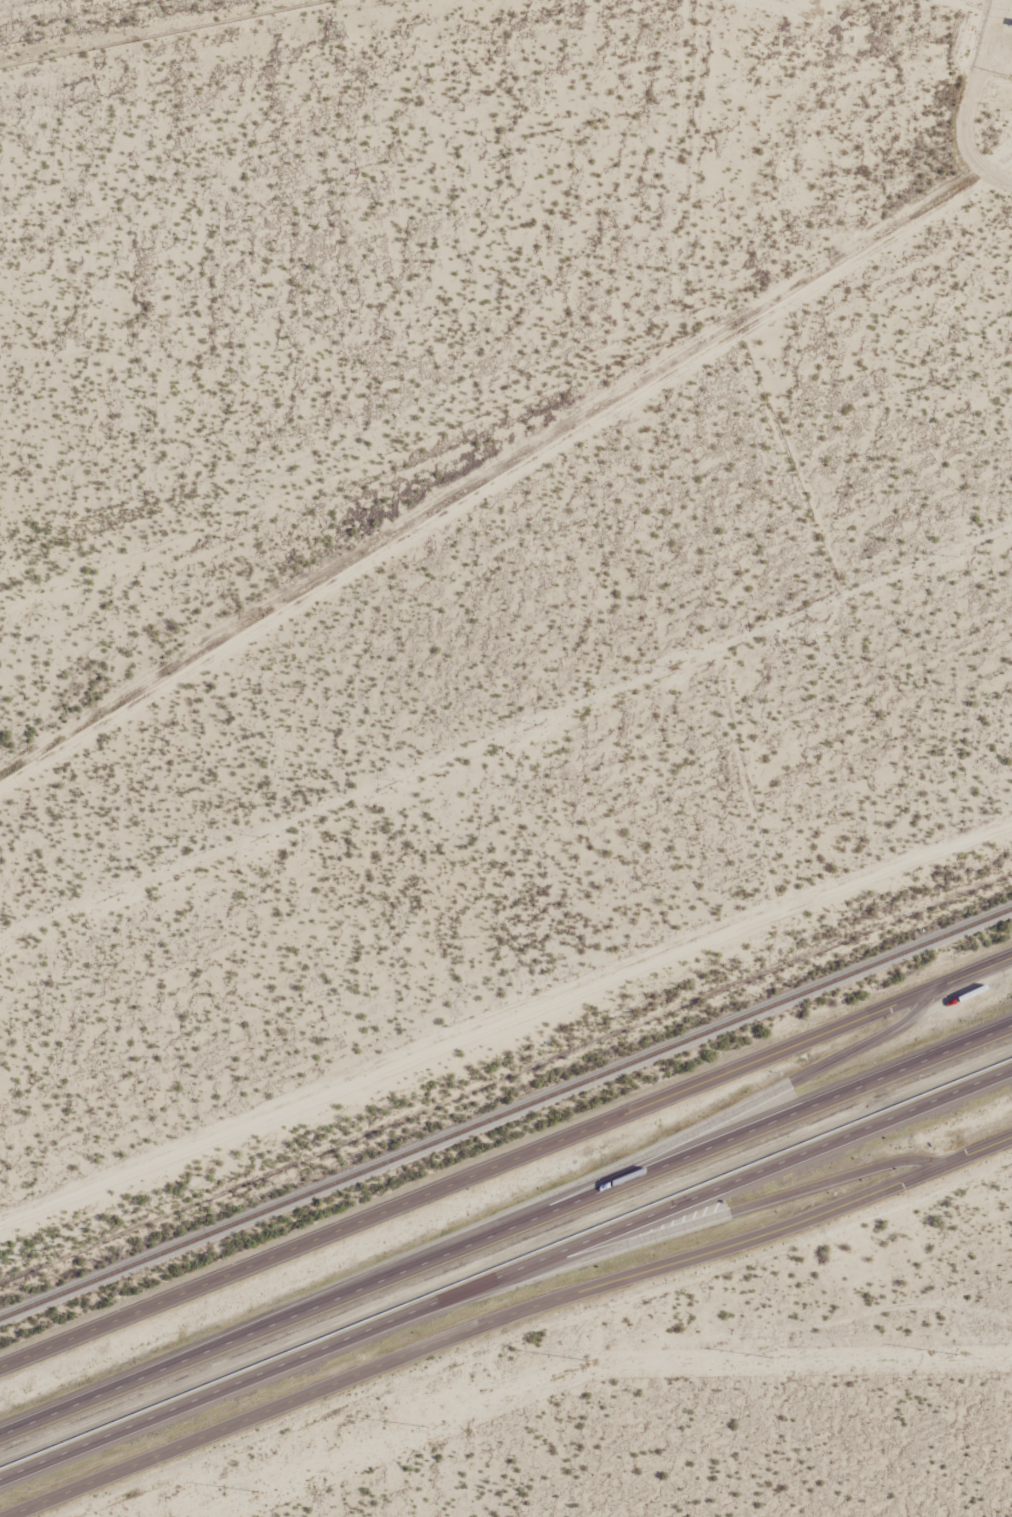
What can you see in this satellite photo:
road: (973, 974)
road: (504, 1026)
railway: (505, 1114)
road: (972, 1146)
road: (467, 1179)
road: (559, 1195)
road: (678, 1228)
road: (505, 1229)
road: (506, 1273)
road: (491, 1339)

